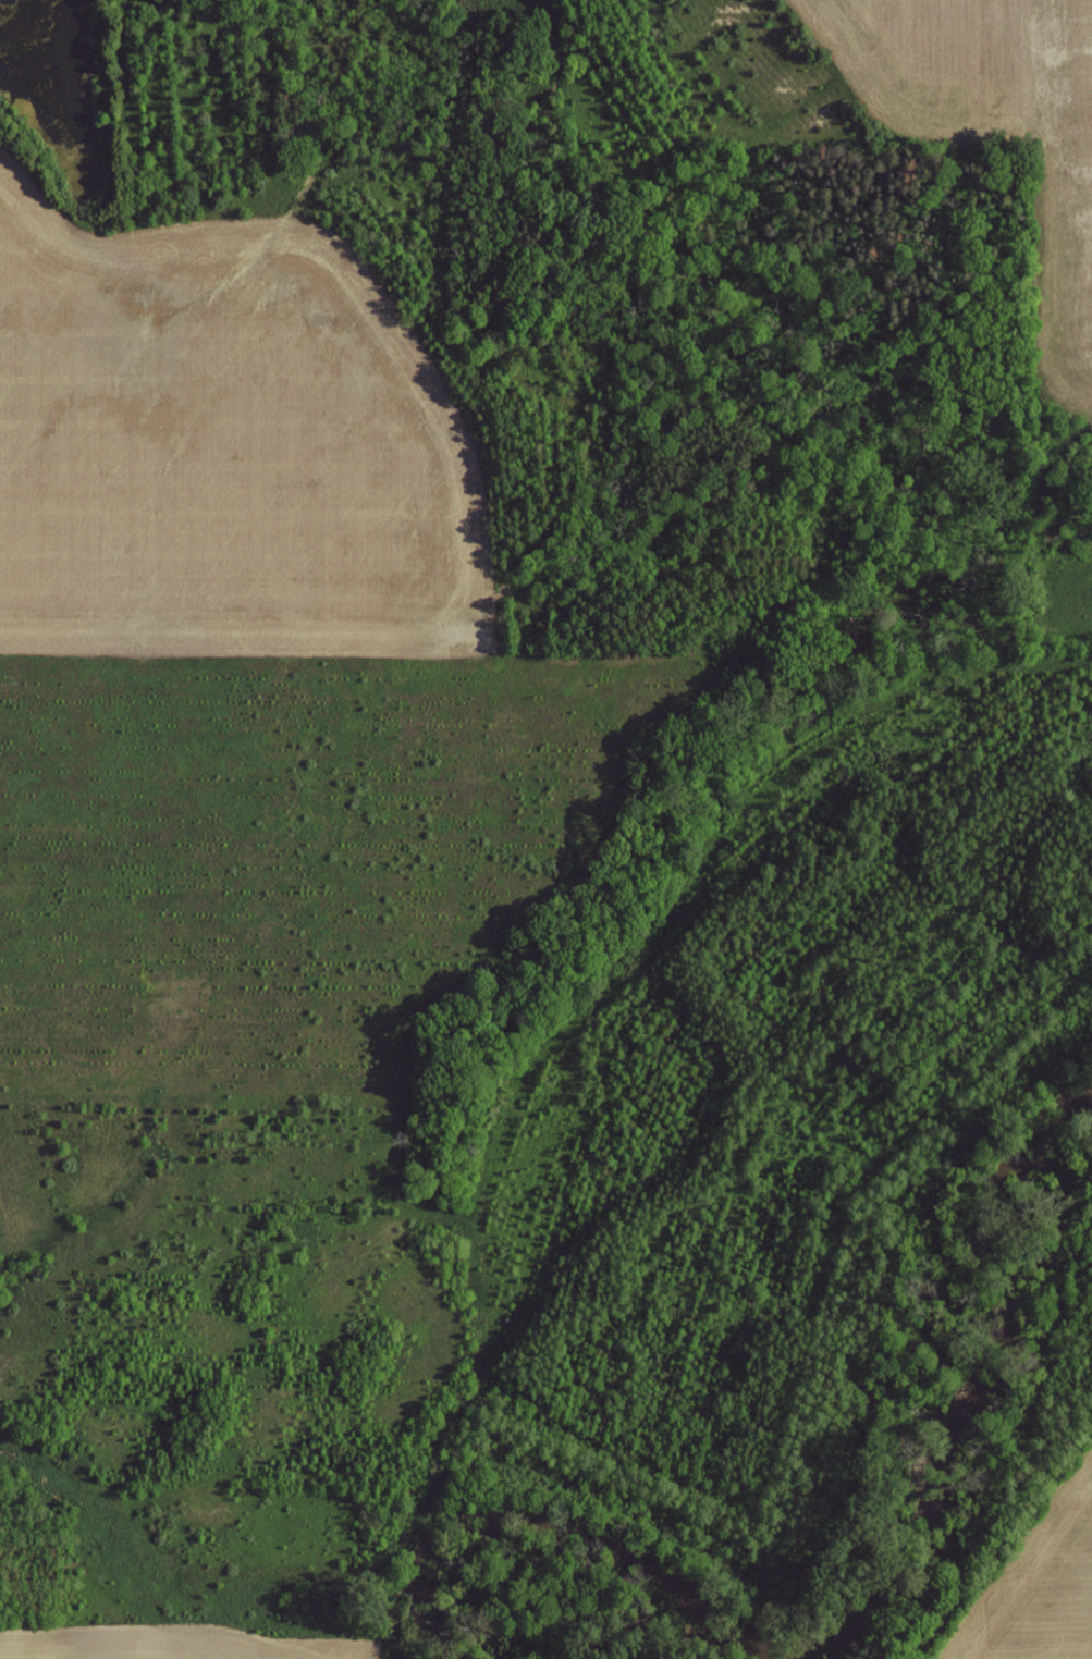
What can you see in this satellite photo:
crop: (982, 91)
crop: (223, 448)
crop: (1034, 1581)
crop: (98, 1650)

